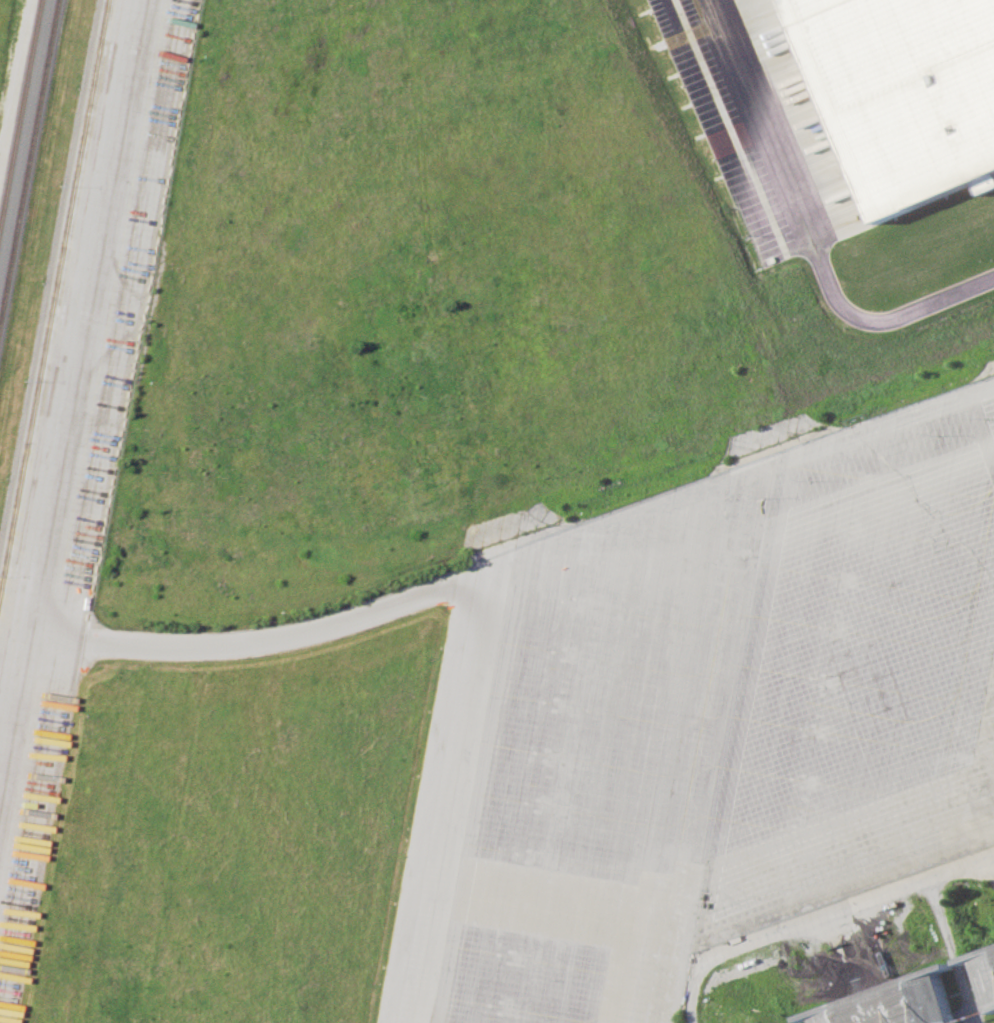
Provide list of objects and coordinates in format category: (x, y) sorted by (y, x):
building: (904, 93)
railway: (28, 160)
road: (804, 230)
railway: (53, 296)
road: (818, 915)
road: (954, 949)
airport hangar: (985, 967)
building: (985, 967)
airport hangar: (898, 1002)
building: (898, 1002)

